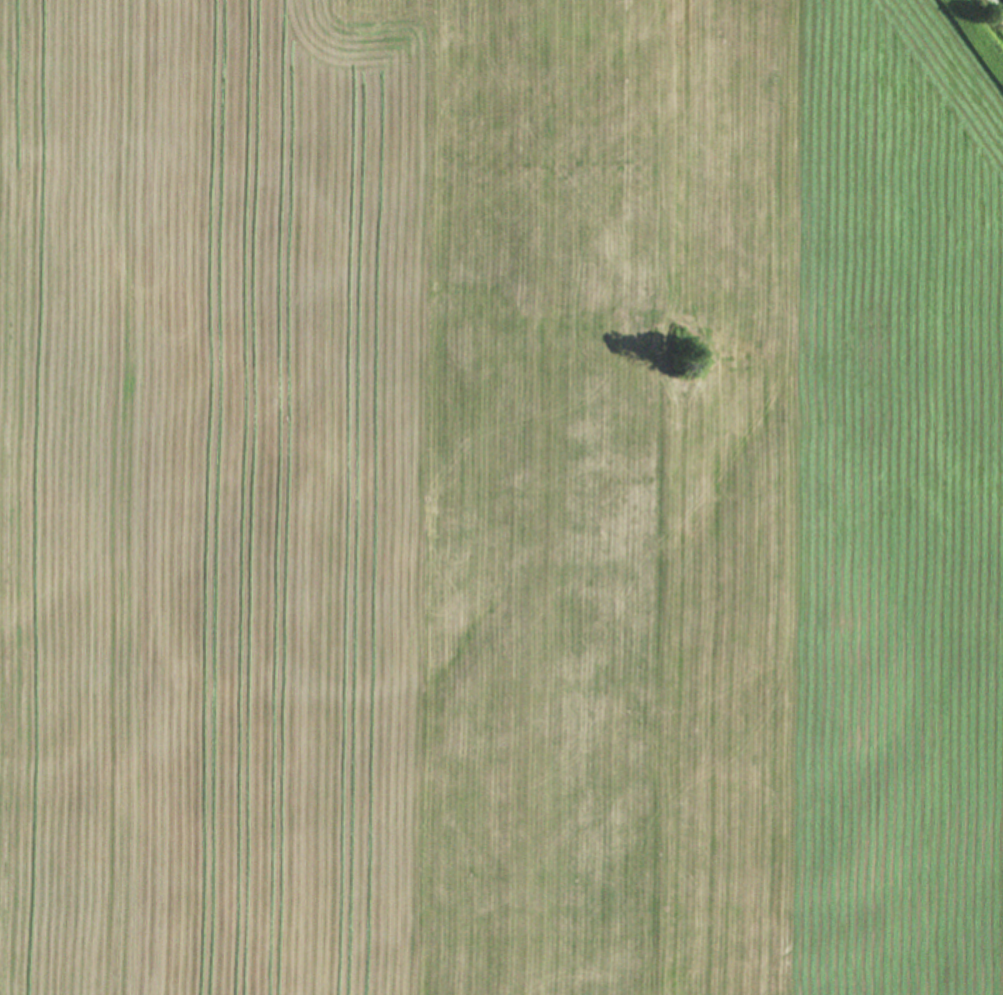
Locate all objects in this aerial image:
road: (999, 5)

